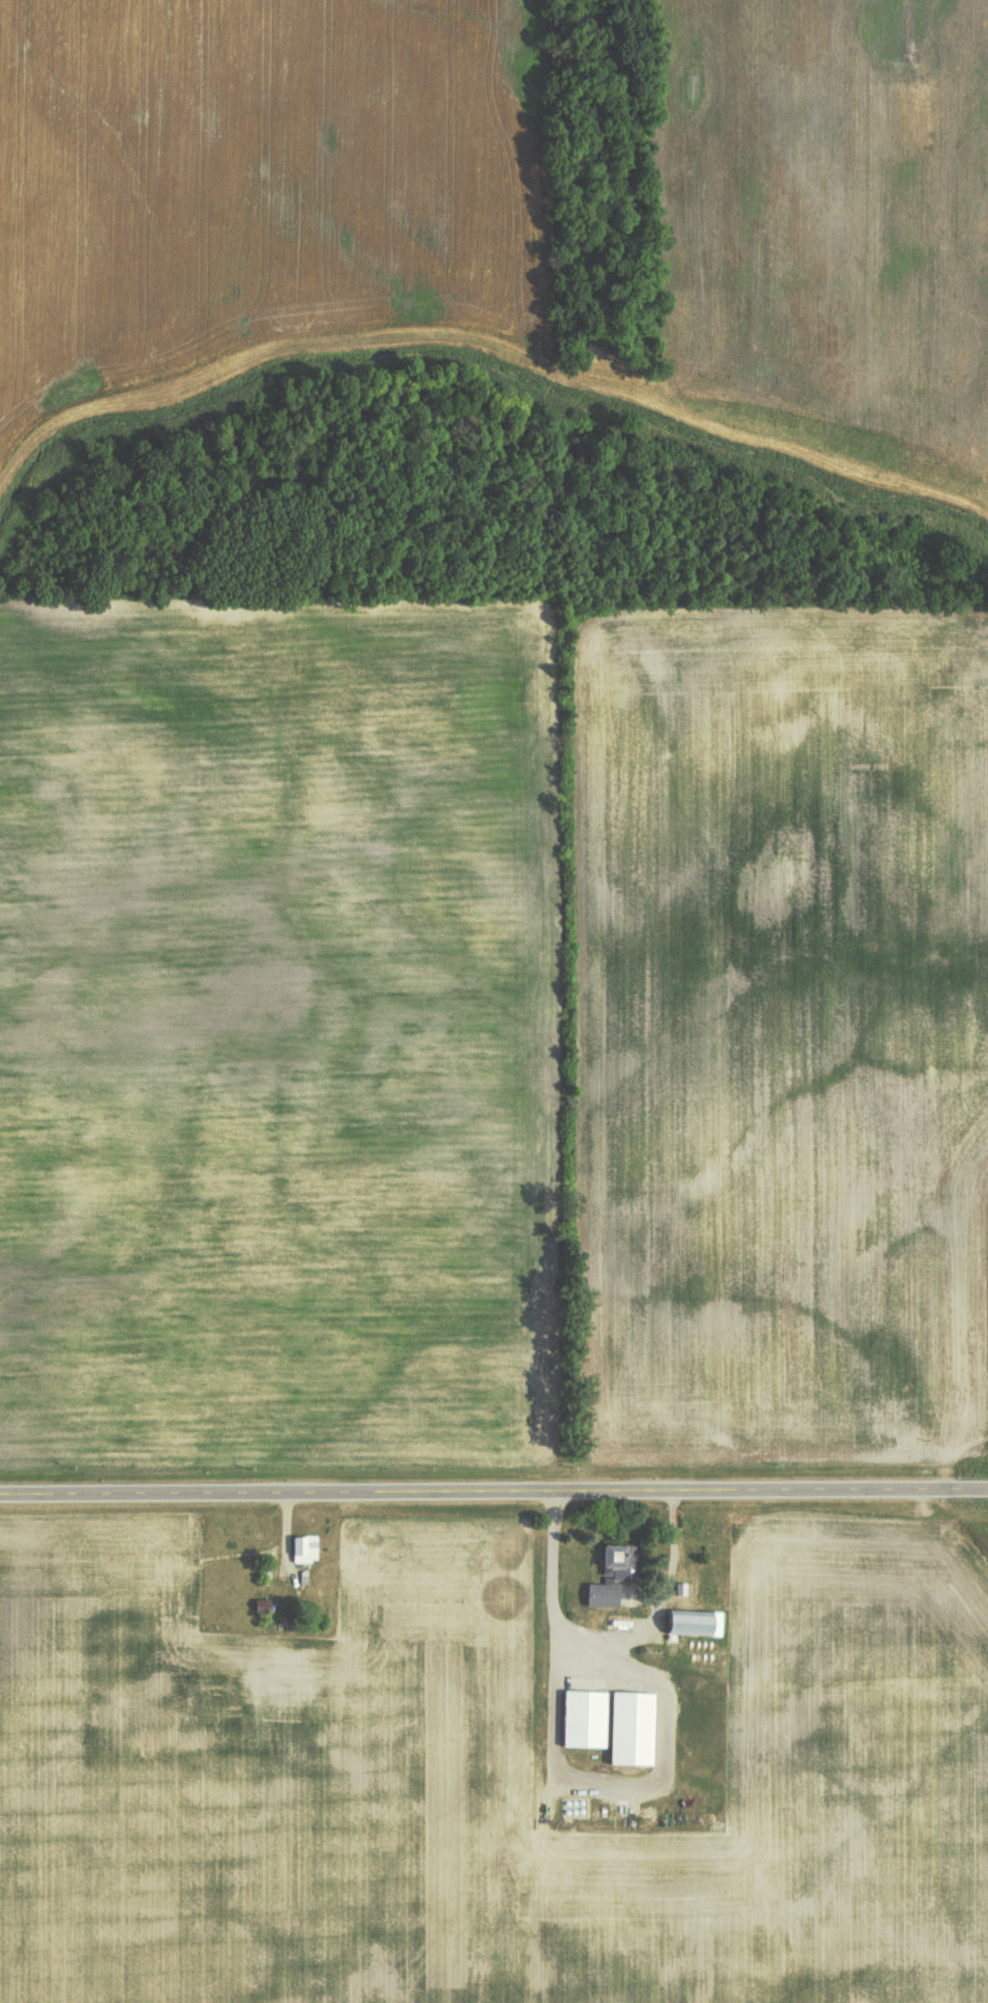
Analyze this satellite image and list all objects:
road: (493, 1486)
building: (305, 1548)
building: (621, 1560)
building: (681, 1588)
building: (604, 1594)
building: (698, 1622)
building: (586, 1718)
building: (633, 1726)

